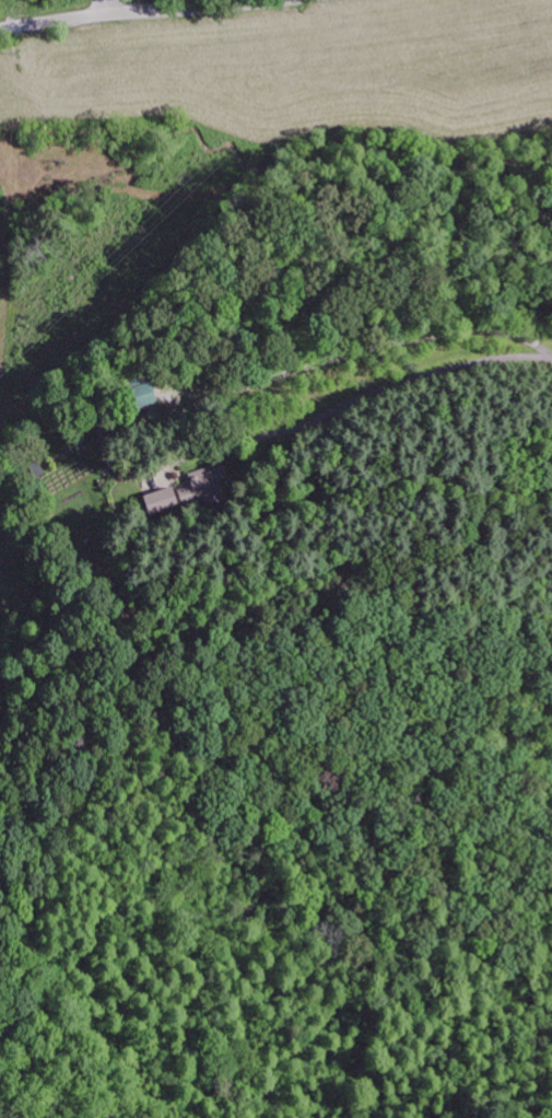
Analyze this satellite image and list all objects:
road: (121, 7)
road: (209, 7)
road: (63, 19)
road: (411, 379)
building: (143, 394)
building: (203, 487)
building: (160, 499)

